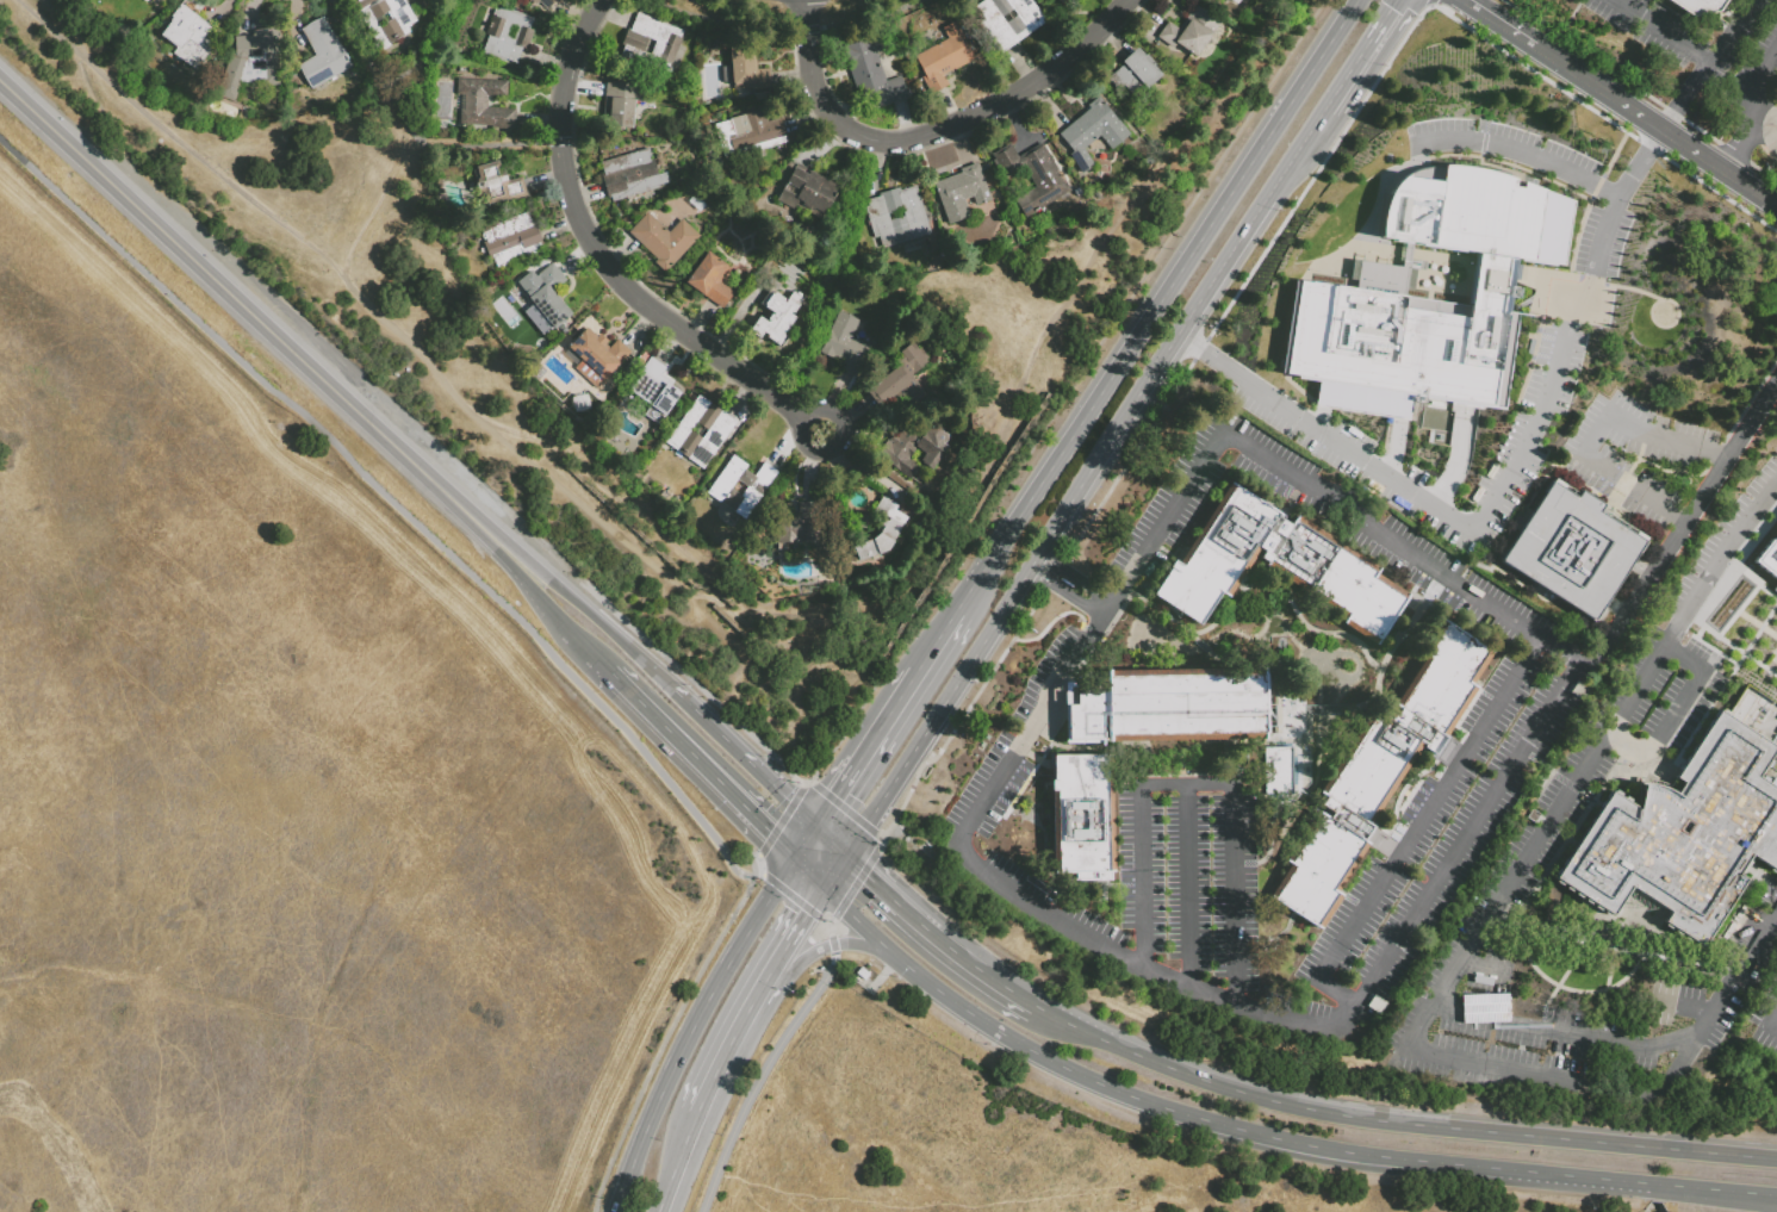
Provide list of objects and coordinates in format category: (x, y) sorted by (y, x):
building: (1057, 0)
building: (155, 1)
building: (179, 1)
building: (1235, 1)
building: (542, 2)
road: (1430, 2)
building: (1698, 7)
traffic signals: (1387, 8)
building: (386, 20)
building: (1008, 21)
road: (1499, 23)
road: (782, 26)
road: (1732, 30)
building: (1189, 31)
road: (1665, 31)
building: (188, 36)
building: (508, 36)
building: (652, 44)
road: (1357, 54)
road: (1548, 54)
building: (323, 57)
building: (943, 57)
building: (1189, 64)
building: (250, 66)
building: (620, 69)
building: (871, 72)
building: (745, 73)
building: (1133, 73)
road: (1753, 86)
road: (1640, 89)
road: (1685, 94)
building: (621, 104)
building: (484, 105)
road: (934, 131)
building: (1092, 131)
road: (411, 133)
road: (1669, 133)
building: (682, 135)
building: (748, 136)
road: (1520, 148)
road: (1736, 150)
road: (1296, 153)
road: (1641, 161)
building: (788, 168)
building: (630, 174)
building: (1032, 176)
building: (497, 187)
building: (808, 192)
building: (962, 193)
building: (491, 213)
building: (896, 217)
building: (663, 240)
building: (512, 242)
building: (850, 259)
road: (605, 260)
building: (539, 268)
road: (826, 272)
road: (882, 276)
building: (709, 280)
building: (772, 285)
building: (1355, 290)
road: (1161, 291)
road: (230, 293)
building: (548, 297)
building: (776, 317)
building: (565, 340)
building: (844, 343)
building: (597, 356)
road: (1207, 359)
building: (639, 361)
building: (538, 375)
building: (902, 378)
building: (654, 390)
building: (610, 396)
building: (583, 402)
parking lot: (1630, 427)
building: (701, 431)
building: (654, 433)
road: (1593, 434)
building: (665, 448)
building: (914, 449)
road: (1394, 449)
road: (1456, 458)
building: (740, 486)
road: (1499, 497)
road: (392, 499)
building: (926, 514)
road: (1683, 524)
building: (800, 526)
building: (919, 526)
road: (1060, 527)
road: (480, 528)
building: (880, 532)
road: (1399, 541)
building: (1571, 541)
building: (1318, 561)
road: (1719, 561)
building: (1770, 561)
road: (1497, 568)
road: (1079, 577)
building: (1775, 590)
road: (568, 593)
road: (962, 596)
road: (1067, 596)
road: (726, 599)
road: (553, 613)
road: (932, 639)
fountain: (1145, 639)
fountain: (1325, 675)
road: (694, 683)
building: (1748, 702)
road: (1677, 709)
road: (884, 714)
fountain: (1330, 726)
road: (673, 734)
road: (741, 757)
building: (1775, 765)
road: (1548, 766)
building: (1282, 770)
building: (1380, 770)
building: (927, 776)
road: (806, 779)
road: (812, 779)
road: (802, 783)
road: (1204, 784)
road: (833, 790)
traffic signals: (832, 794)
road: (844, 808)
building: (1081, 814)
road: (779, 820)
road: (1547, 825)
road: (765, 826)
road: (1417, 826)
traffic signals: (771, 832)
building: (1684, 834)
road: (880, 837)
road: (803, 838)
road: (830, 839)
road: (881, 844)
building: (926, 849)
road: (808, 868)
road: (834, 869)
traffic signals: (869, 876)
road: (856, 883)
road: (1188, 884)
road: (790, 895)
road: (889, 895)
traffic signals: (802, 909)
road: (832, 921)
road: (827, 924)
road: (790, 928)
road: (831, 939)
road: (832, 949)
road: (810, 950)
road: (1118, 951)
road: (884, 952)
road: (957, 952)
building: (860, 974)
road: (1008, 989)
road: (1771, 1020)
road: (689, 1025)
road: (670, 1031)
road: (1635, 1045)
road: (1545, 1075)
road: (760, 1077)
road: (703, 1090)
road: (1131, 1096)
road: (1398, 1121)
road: (1640, 1182)
road: (609, 1206)

